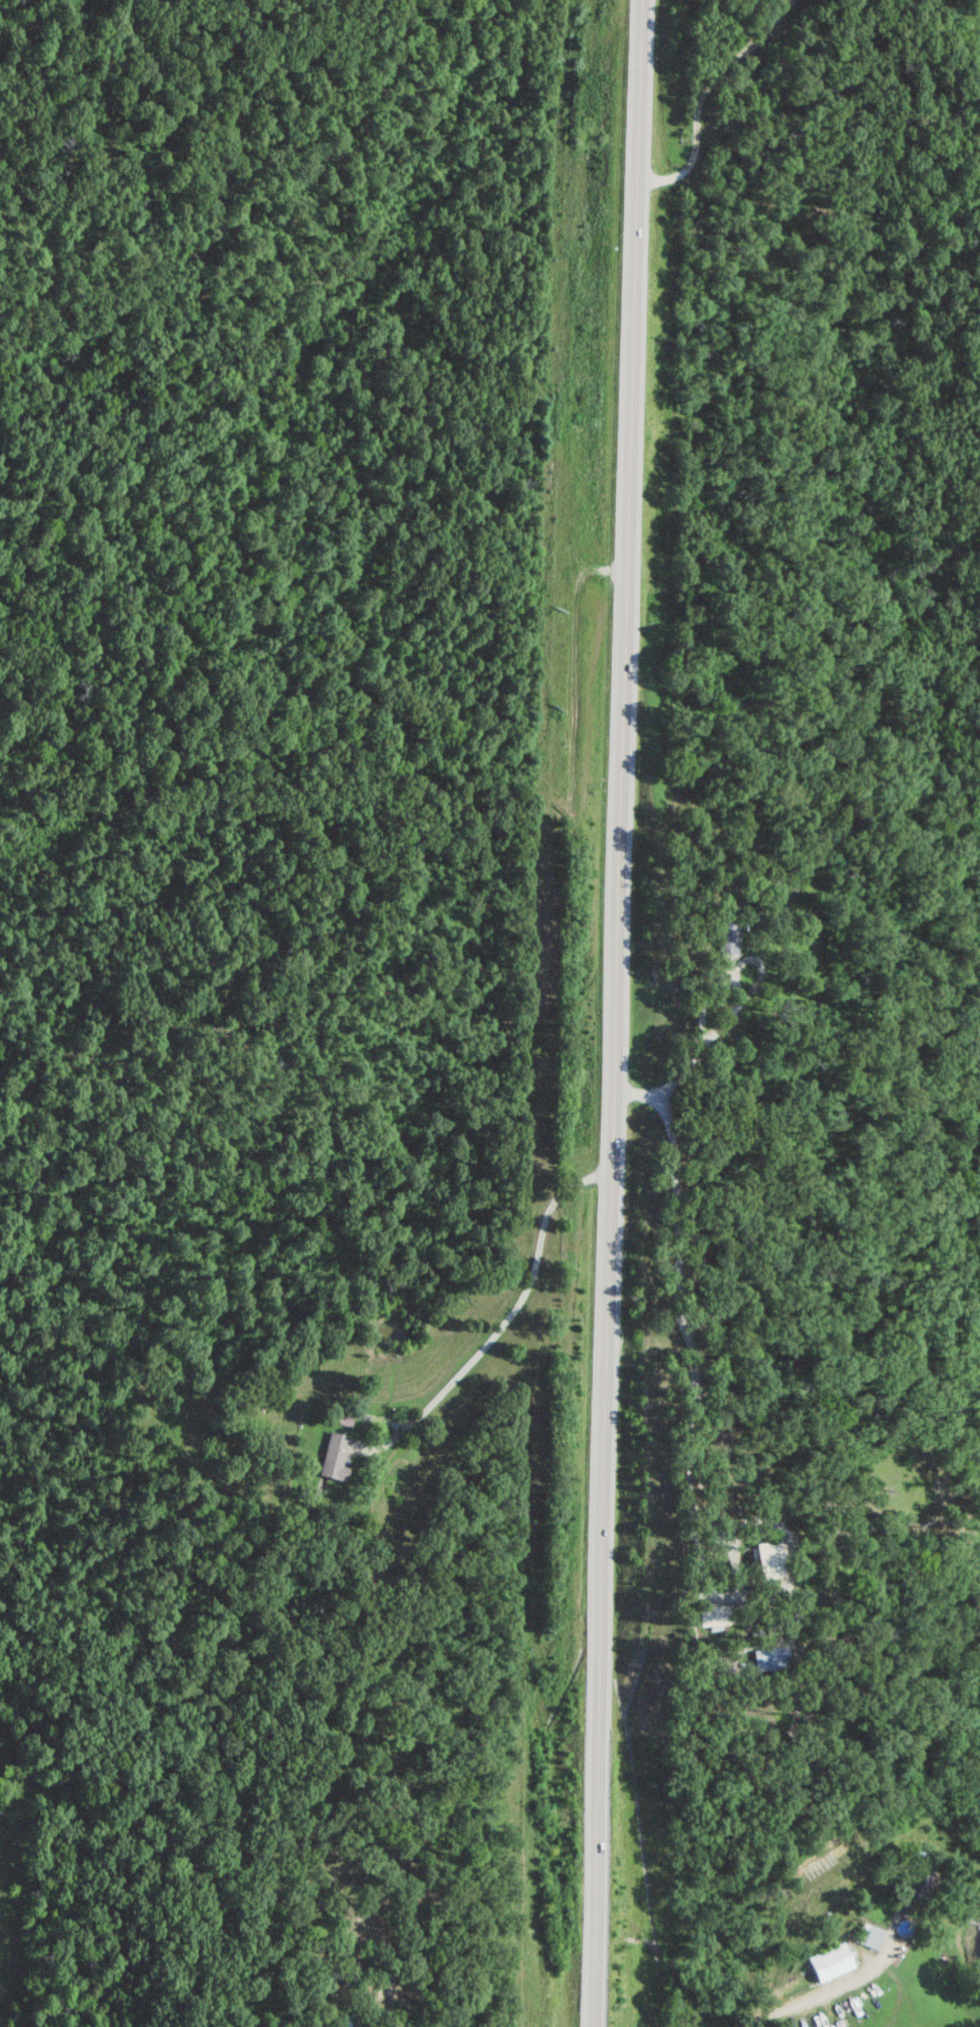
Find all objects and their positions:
building: (728, 936)
road: (618, 1013)
building: (334, 1456)
building: (766, 1559)
building: (716, 1615)
building: (771, 1657)
building: (914, 1883)
building: (871, 1935)
building: (832, 1962)
building: (343, 2021)

